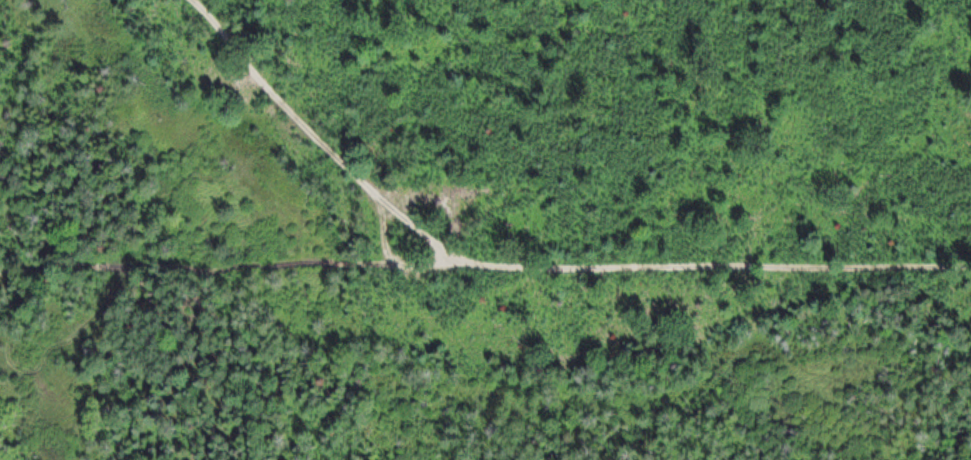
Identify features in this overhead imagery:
road: (318, 134)
road: (384, 228)
road: (485, 263)

